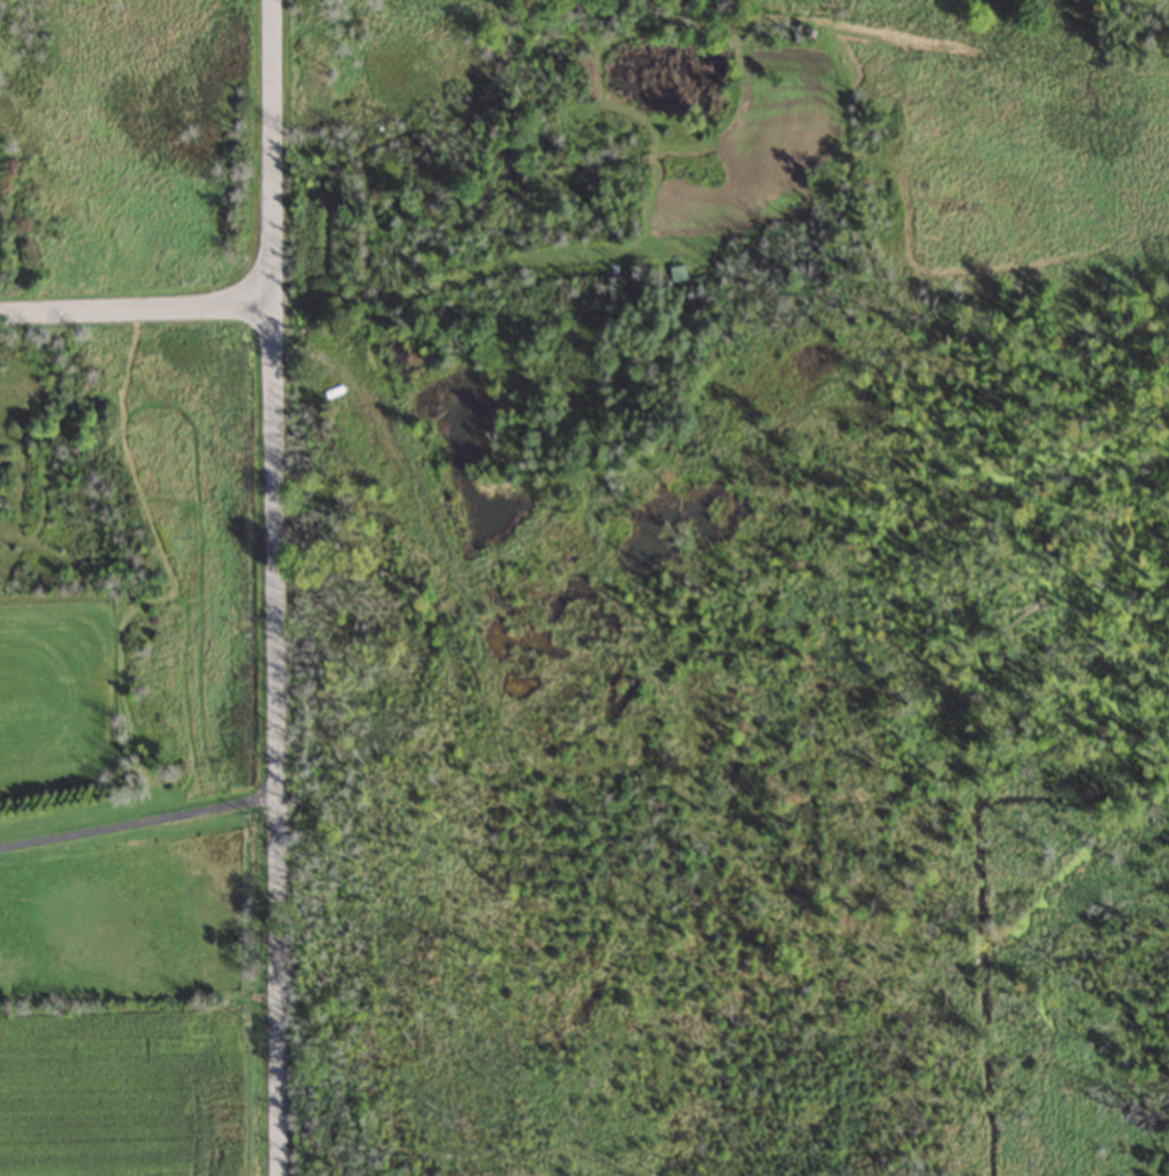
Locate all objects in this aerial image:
road: (142, 298)
road: (283, 587)
road: (142, 818)

